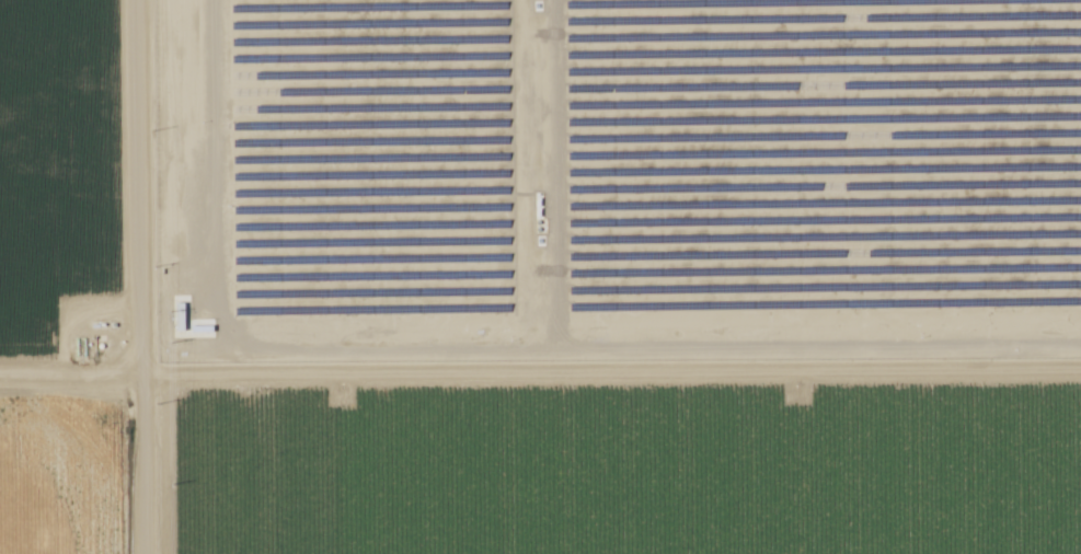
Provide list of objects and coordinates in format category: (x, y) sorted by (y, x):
solar farm: (614, 184)
crop: (66, 277)
road: (138, 277)
crop: (607, 472)

